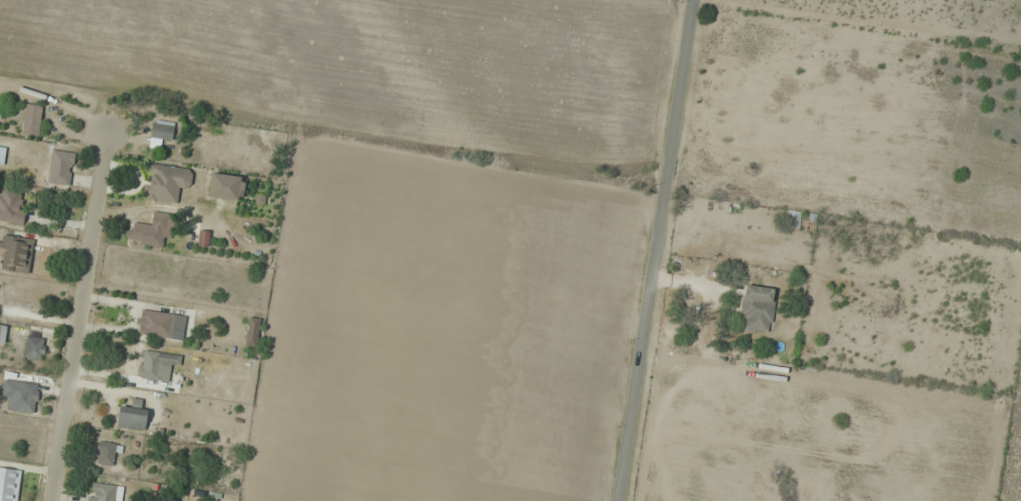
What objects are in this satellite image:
building: (32, 119)
building: (160, 132)
building: (2, 154)
building: (61, 167)
building: (166, 182)
building: (12, 206)
building: (801, 220)
building: (149, 231)
building: (204, 238)
road: (661, 250)
building: (16, 253)
building: (758, 309)
road: (78, 317)
building: (160, 324)
building: (34, 348)
building: (156, 365)
building: (21, 395)
building: (132, 418)
building: (107, 453)
building: (9, 484)
building: (105, 492)

